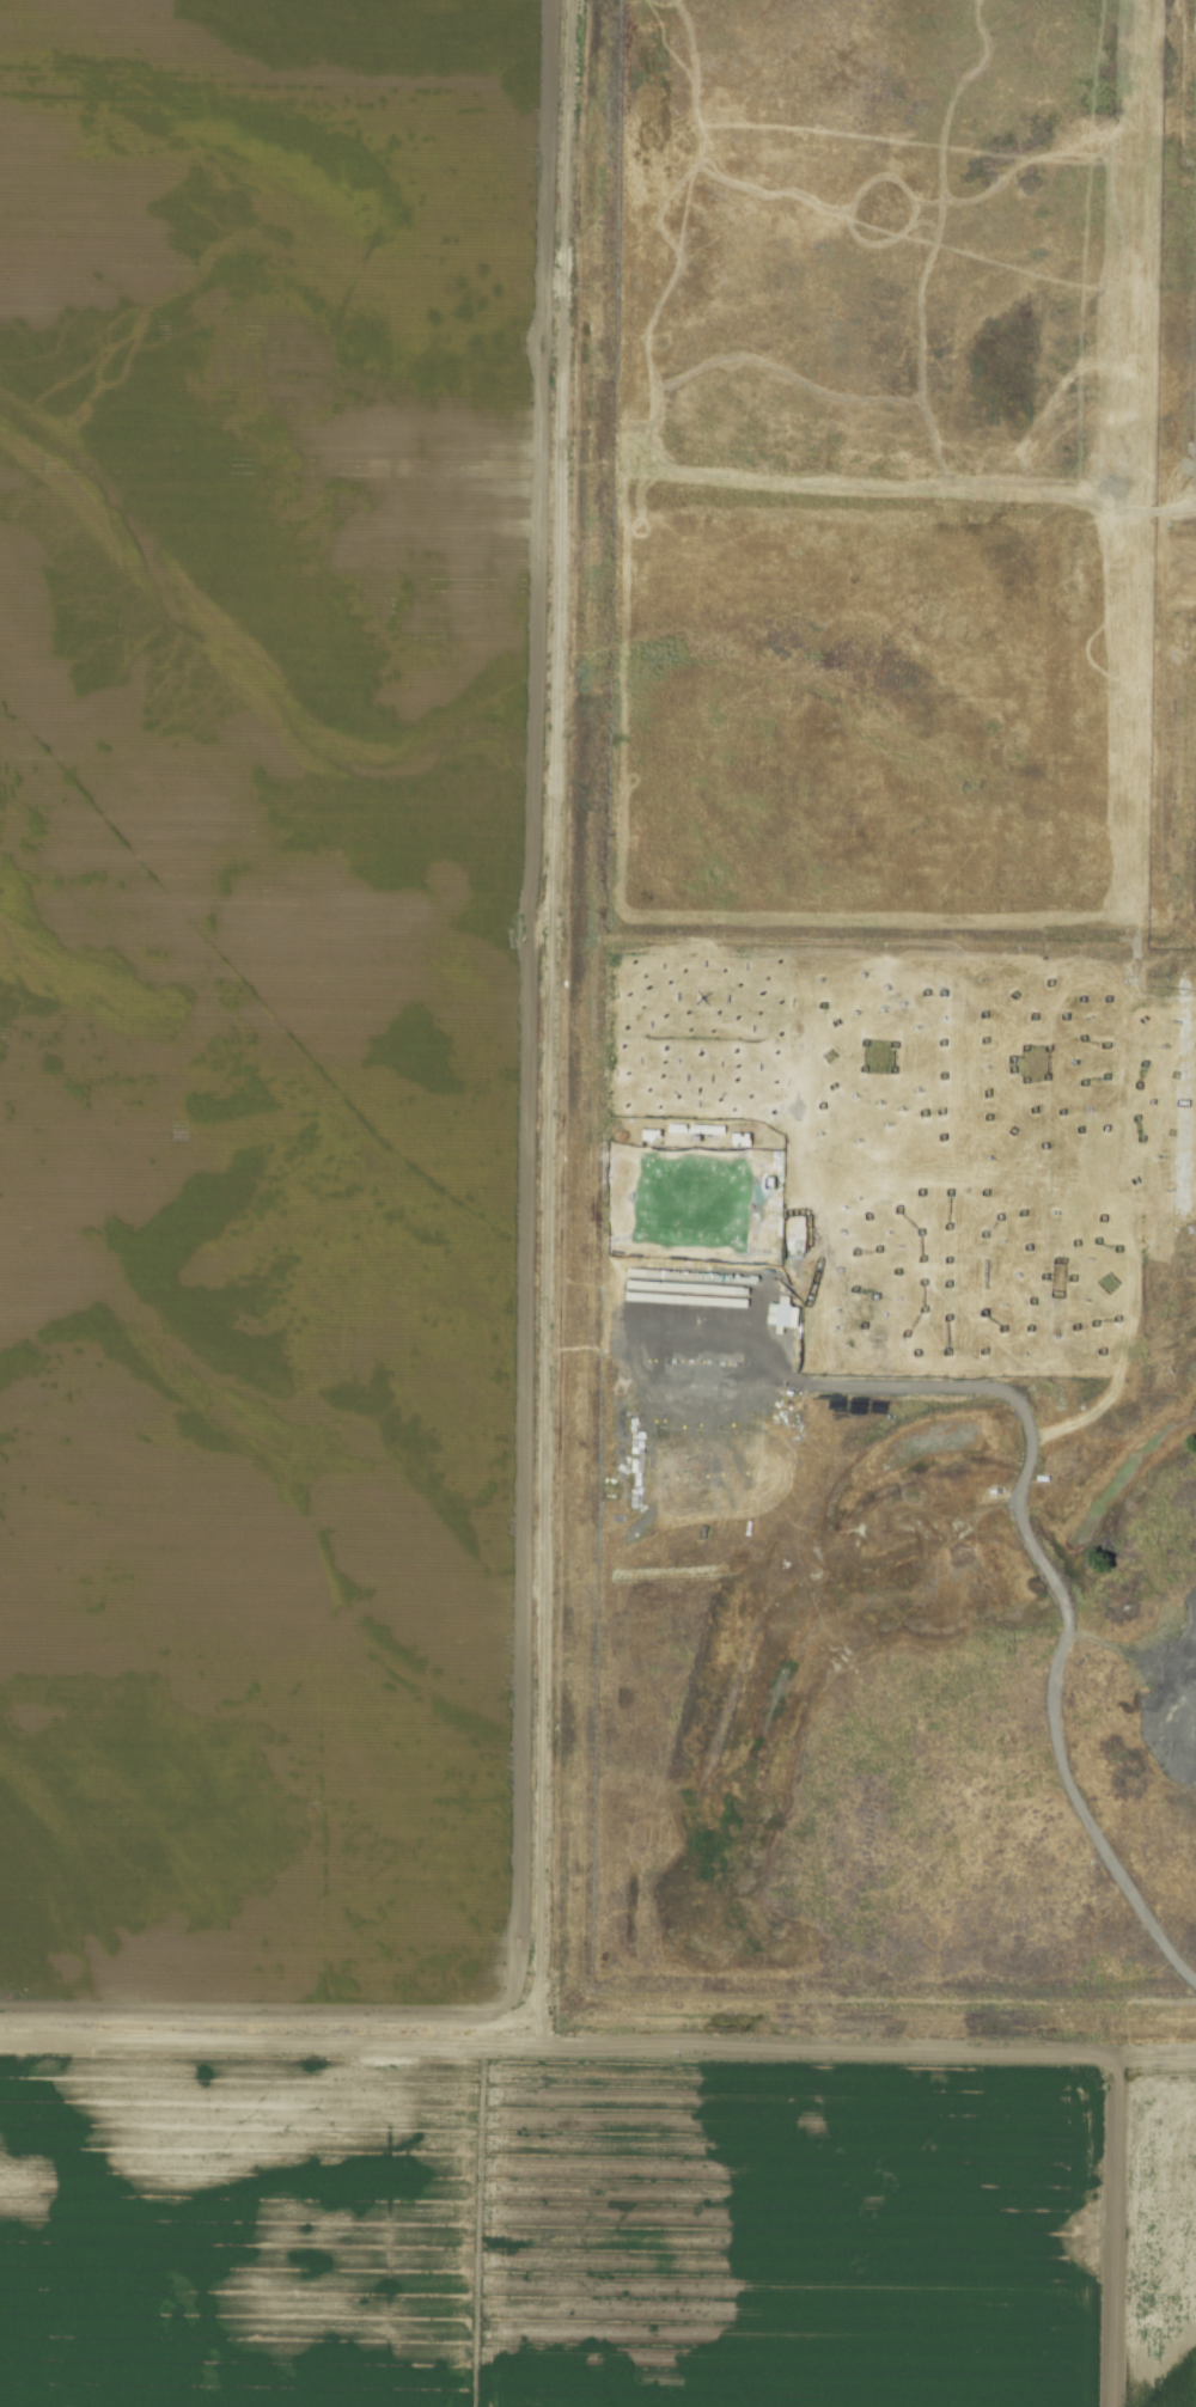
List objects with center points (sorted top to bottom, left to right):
road: (550, 1273)
building: (783, 1314)
road: (1026, 1534)

